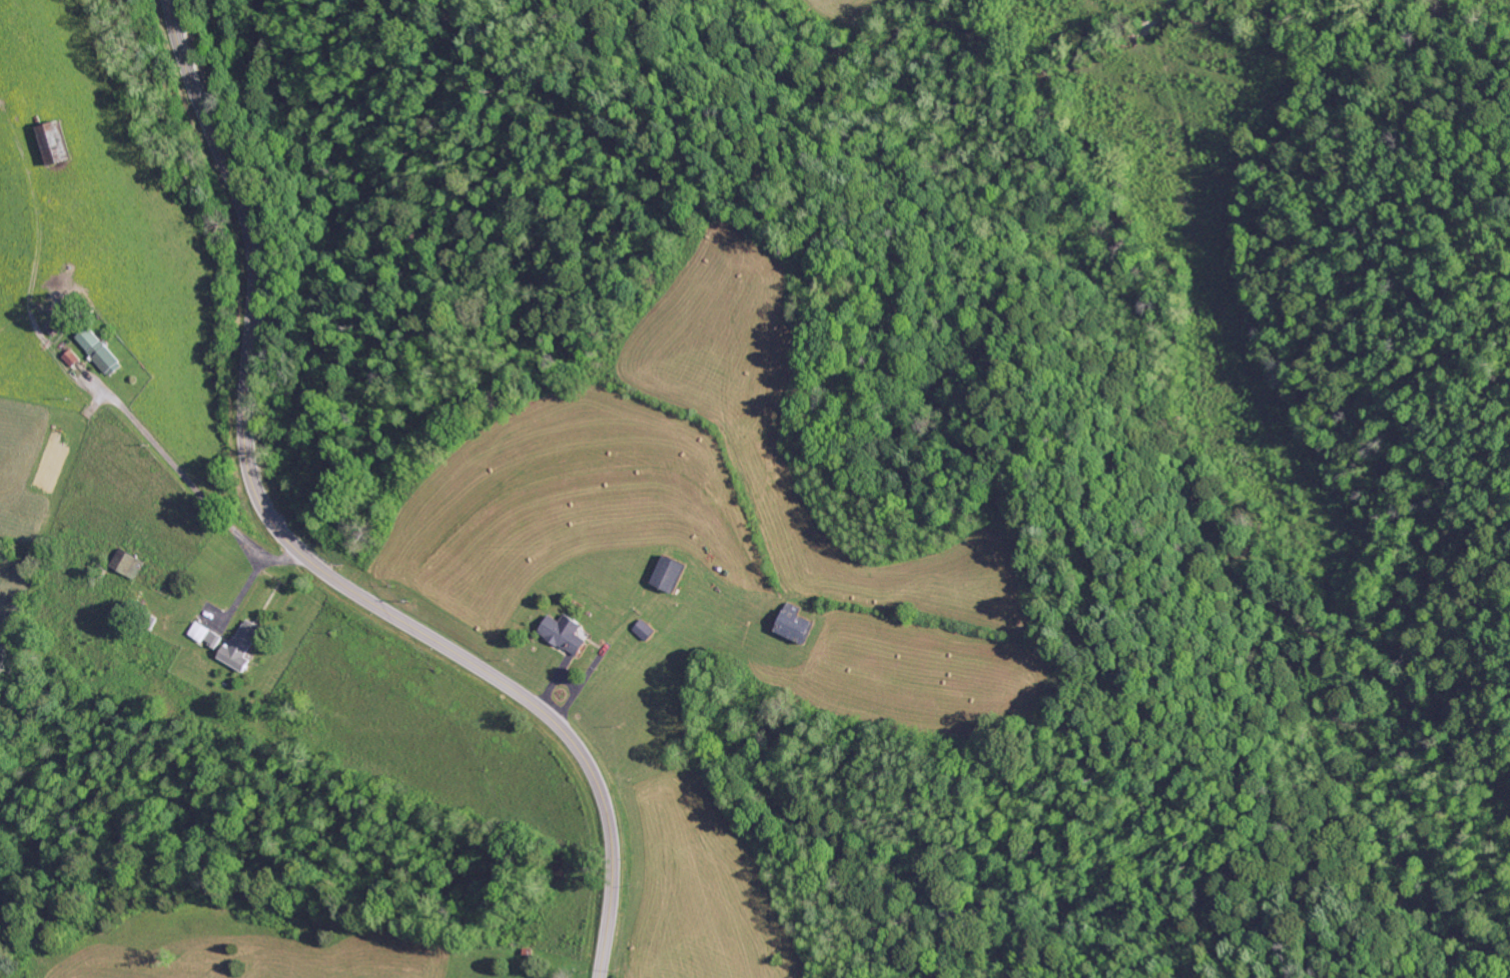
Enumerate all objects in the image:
building: (55, 143)
building: (101, 352)
building: (73, 358)
road: (298, 552)
building: (129, 564)
building: (671, 574)
building: (798, 627)
building: (645, 630)
building: (564, 634)
building: (206, 635)
building: (242, 646)

